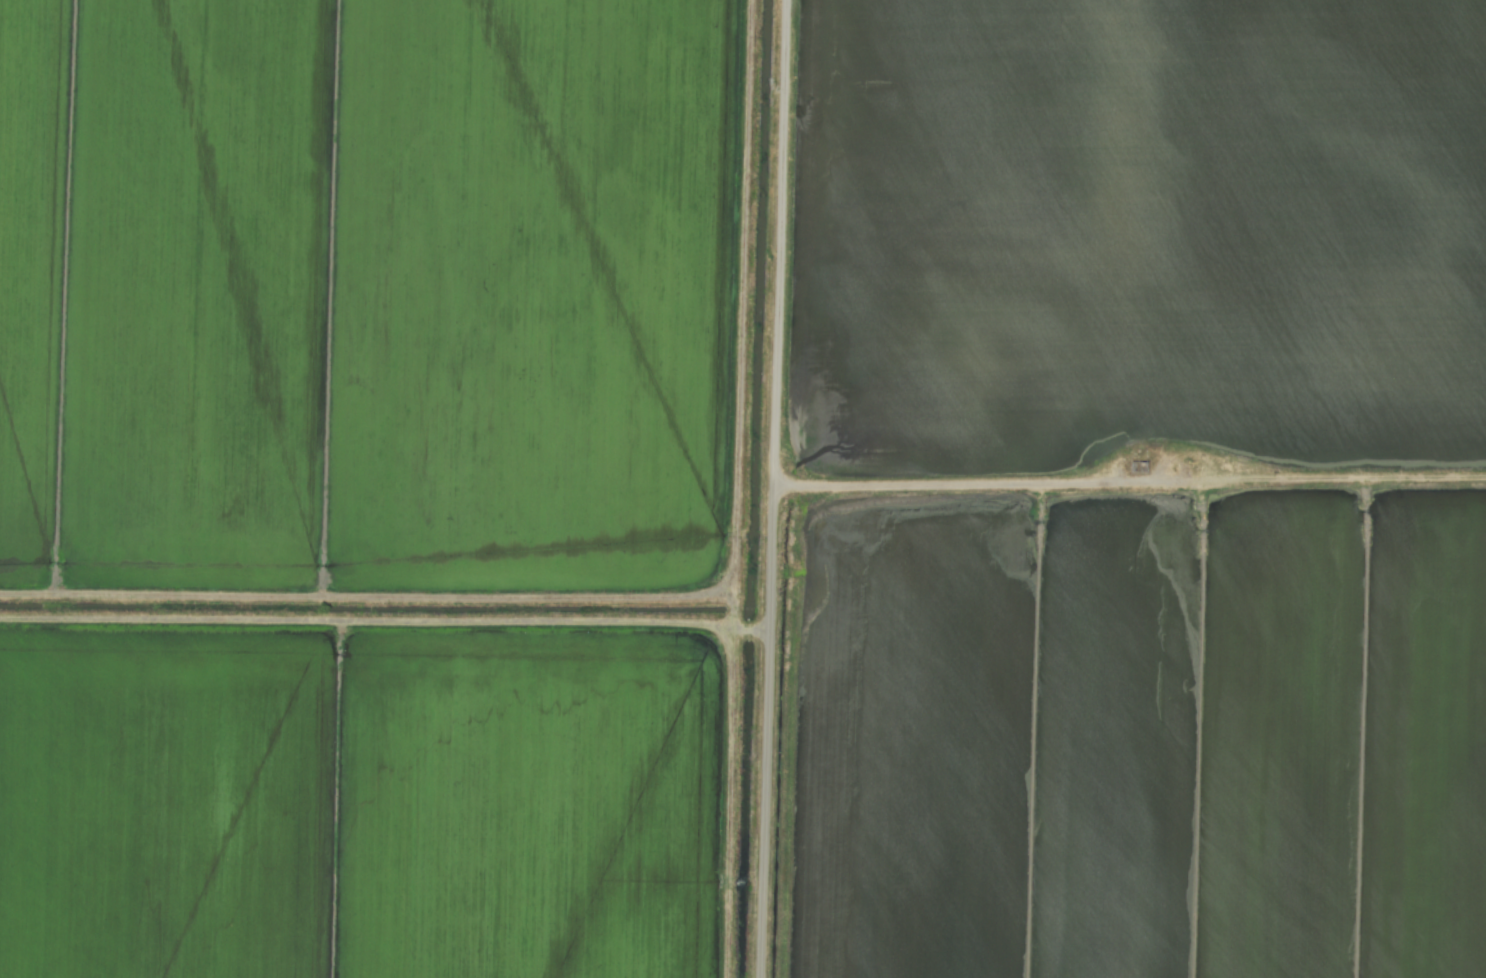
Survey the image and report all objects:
road: (980, 483)
crop: (743, 489)
road: (774, 489)
road: (367, 598)

